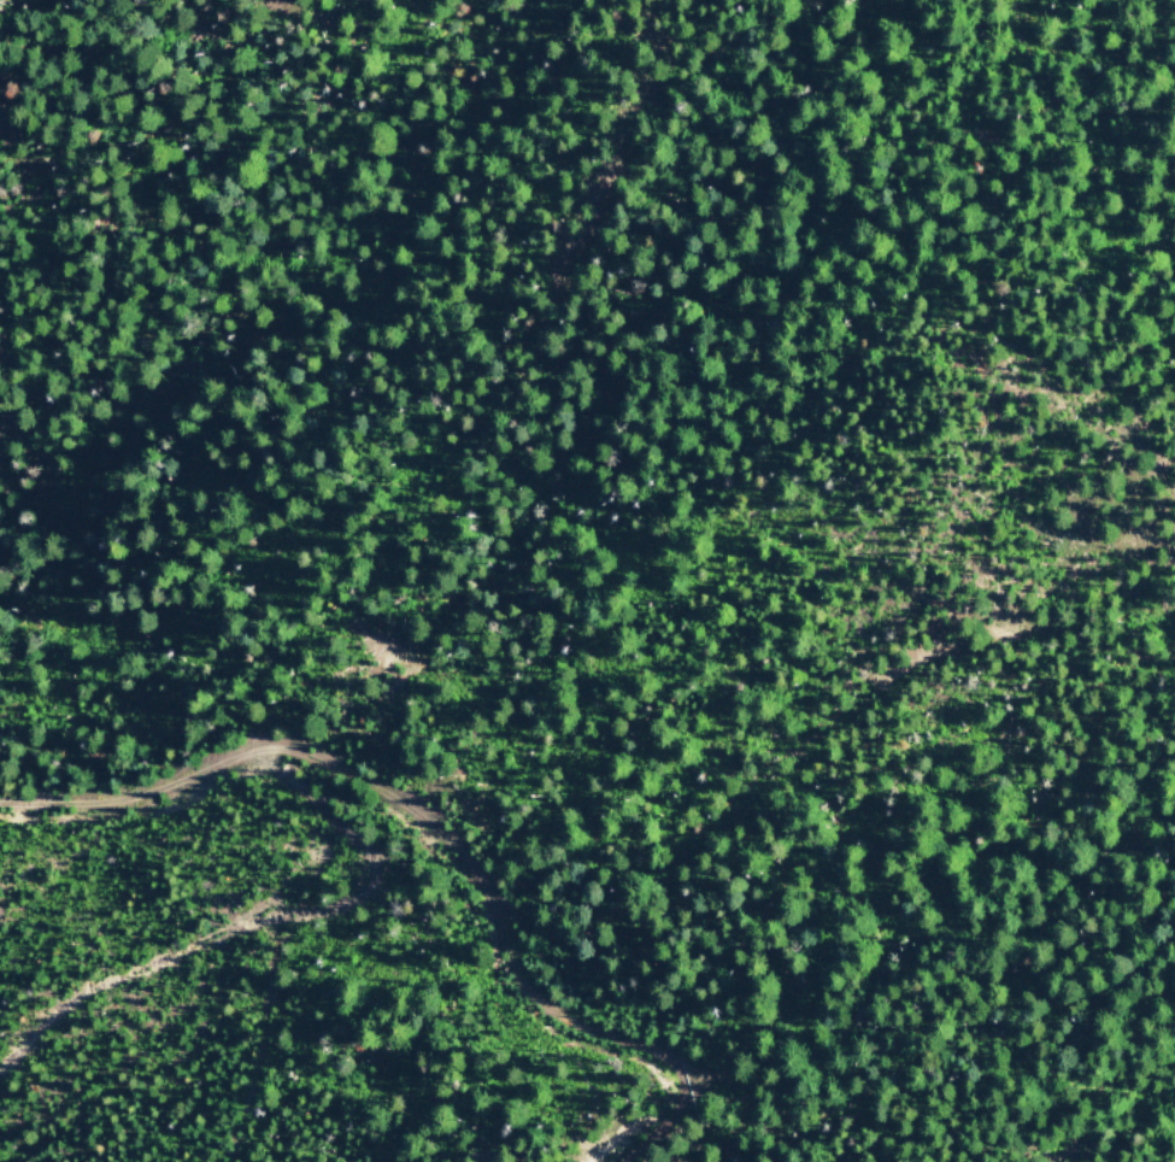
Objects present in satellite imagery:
road: (434, 817)

